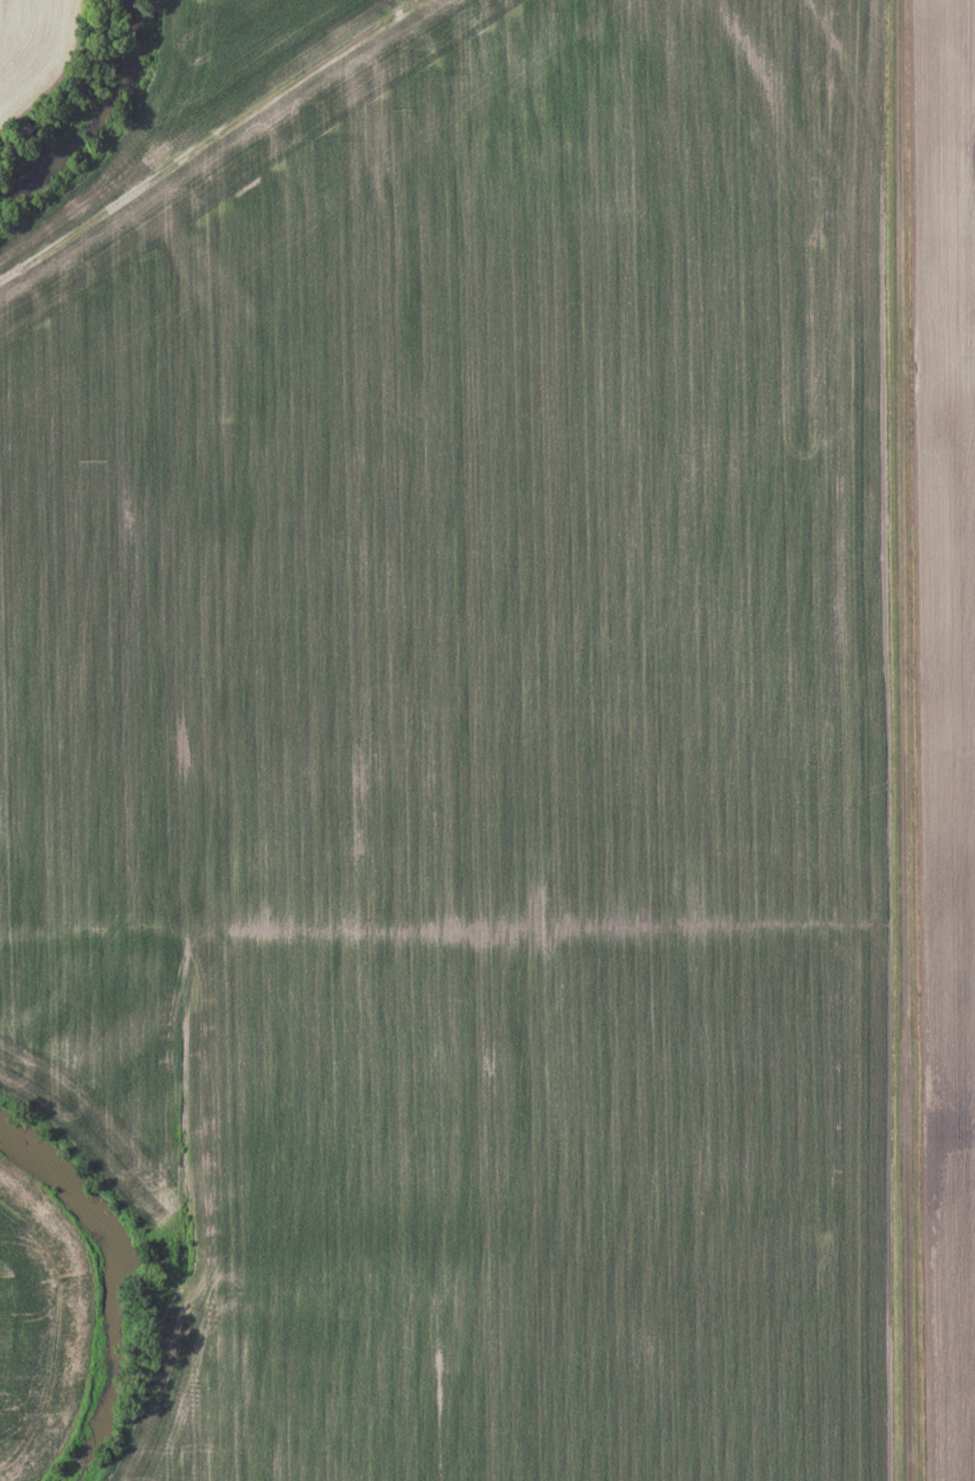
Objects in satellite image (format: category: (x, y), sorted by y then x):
road: (904, 740)

